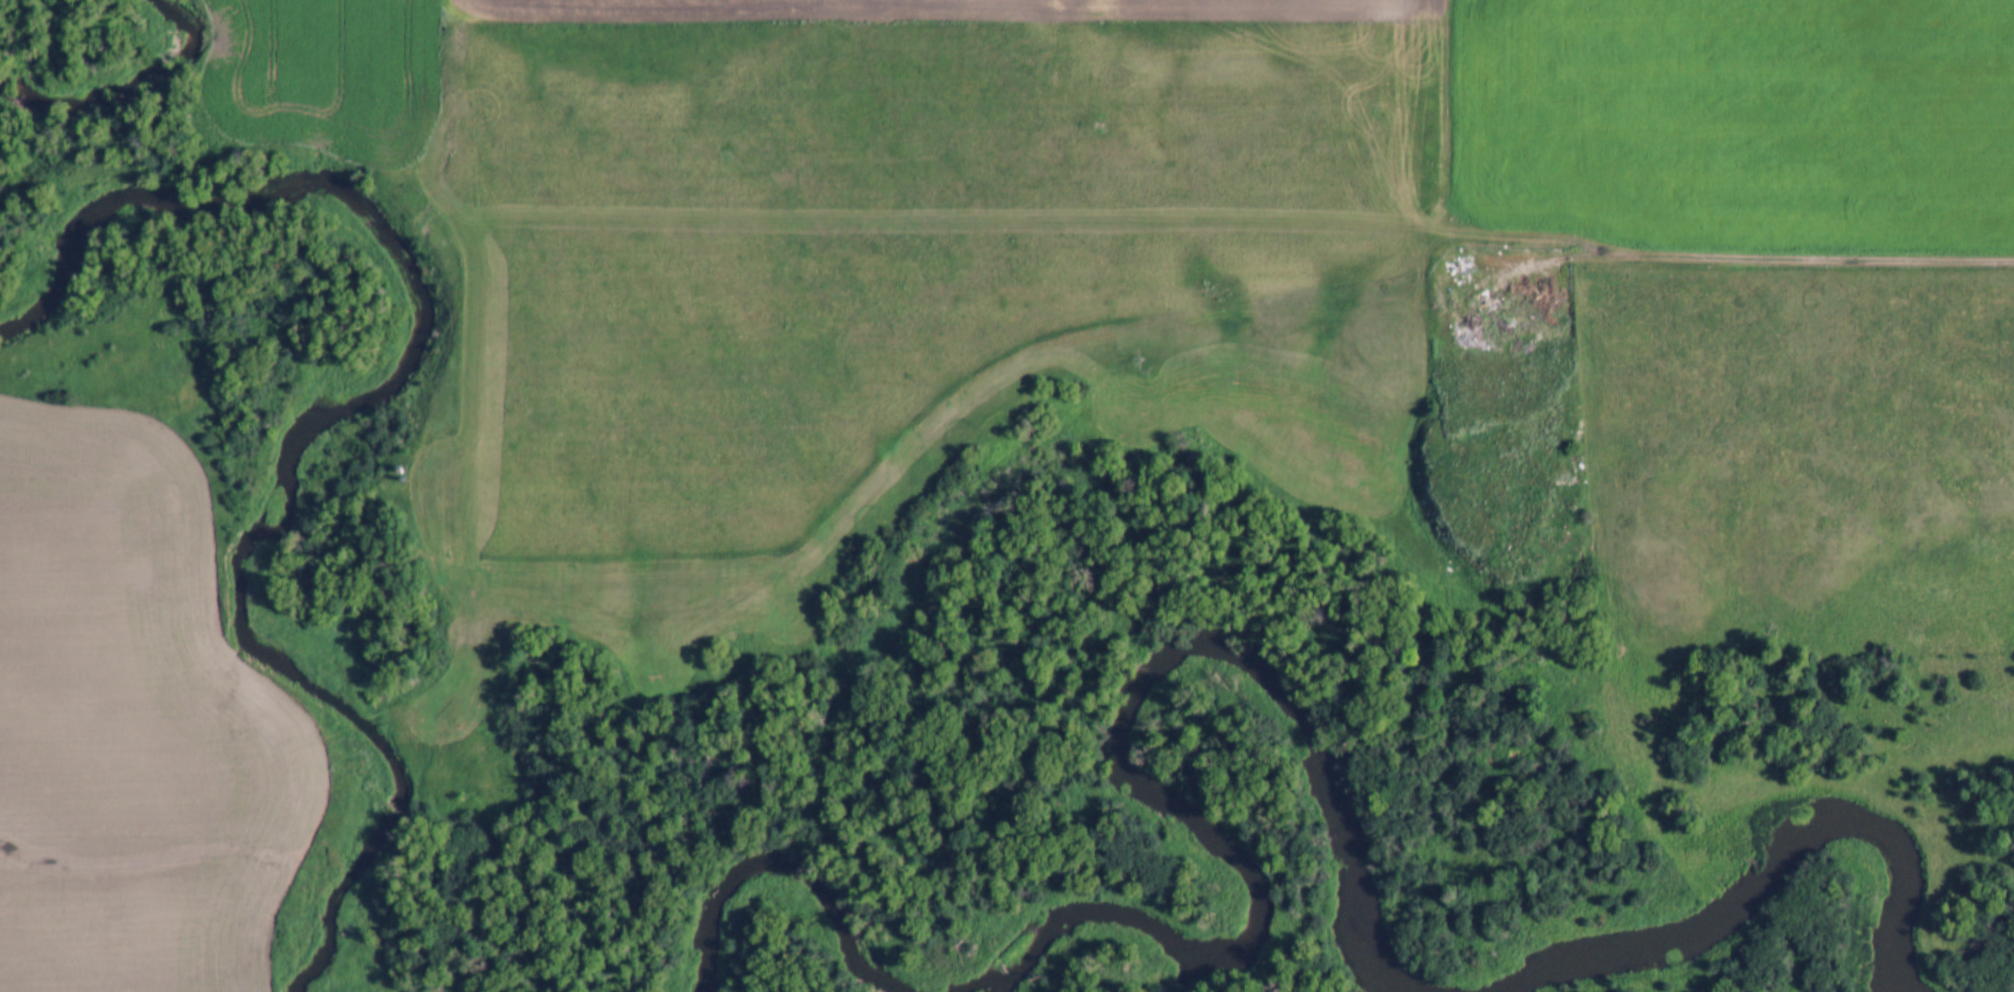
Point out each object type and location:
road: (1734, 250)
landfill: (1500, 406)

